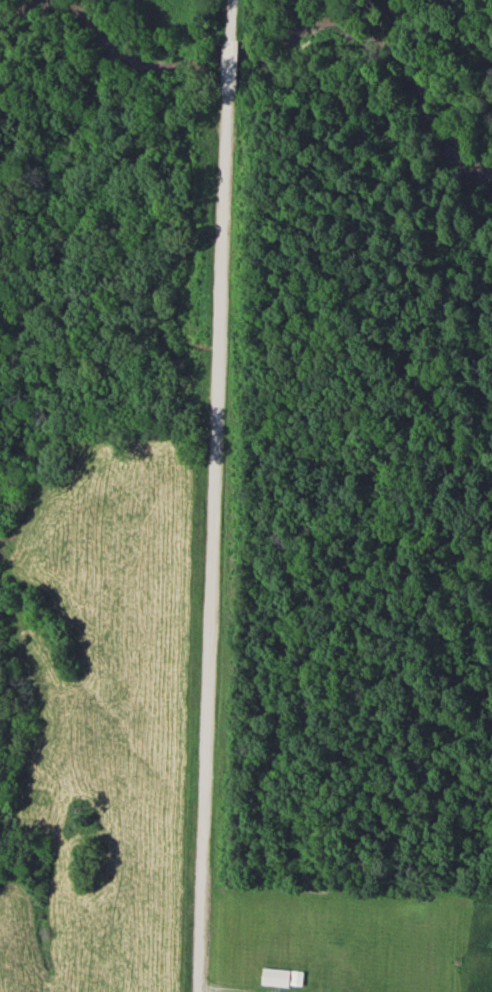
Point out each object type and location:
road: (229, 25)
river: (275, 58)
road: (227, 70)
road: (212, 541)
building: (284, 977)

